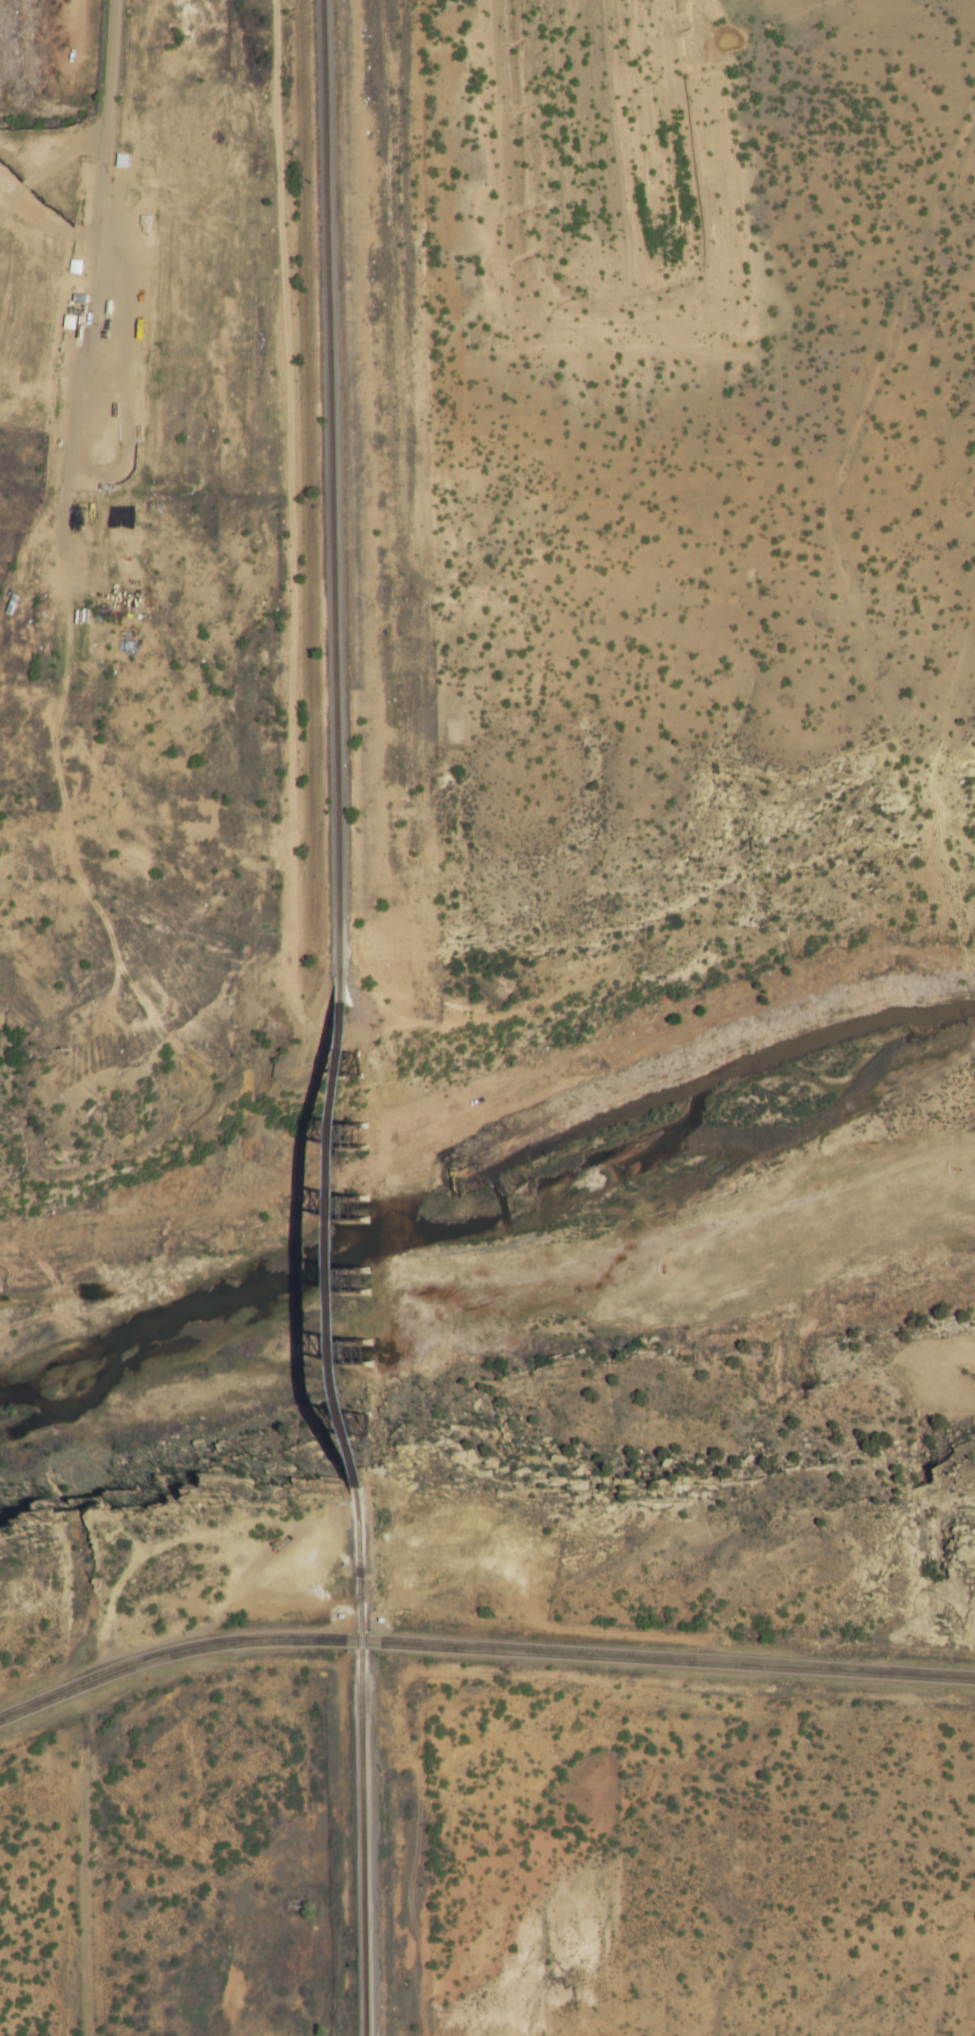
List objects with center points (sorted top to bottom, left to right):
railway: (345, 491)
railway: (356, 1236)
river: (494, 1267)
road: (481, 1648)
railway: (366, 1762)
road: (81, 1860)

